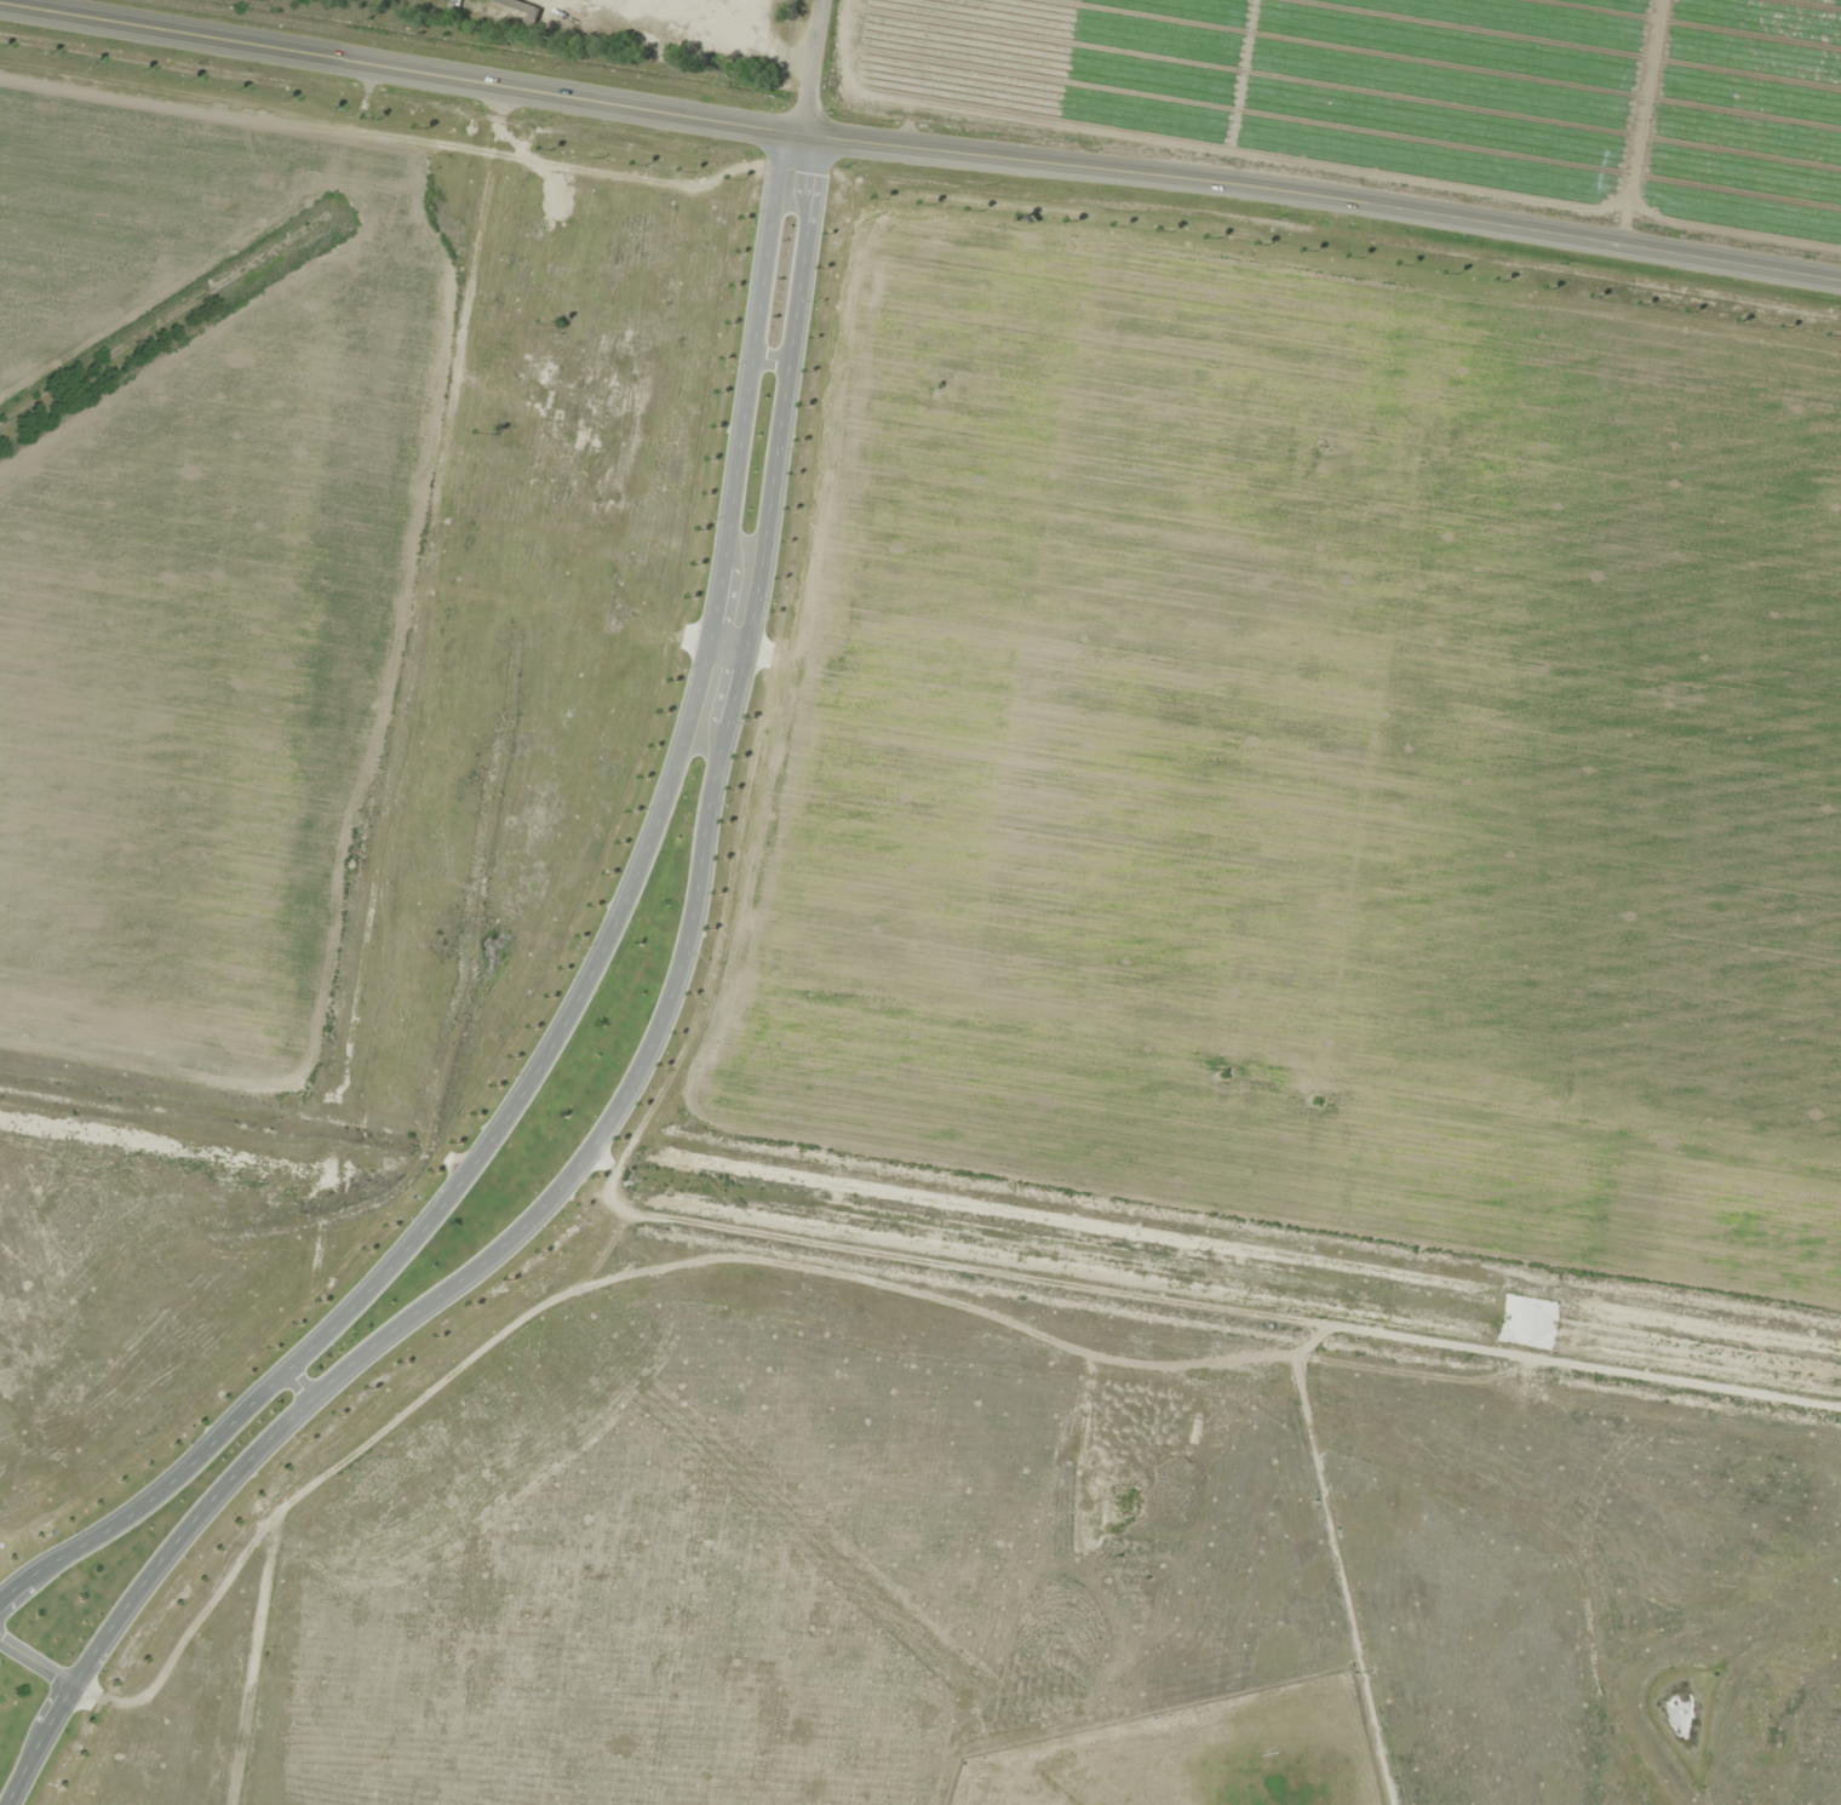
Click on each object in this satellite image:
building: (520, 5)
road: (276, 44)
road: (810, 68)
road: (1171, 195)
road: (591, 975)
road: (633, 1079)
road: (36, 1662)

